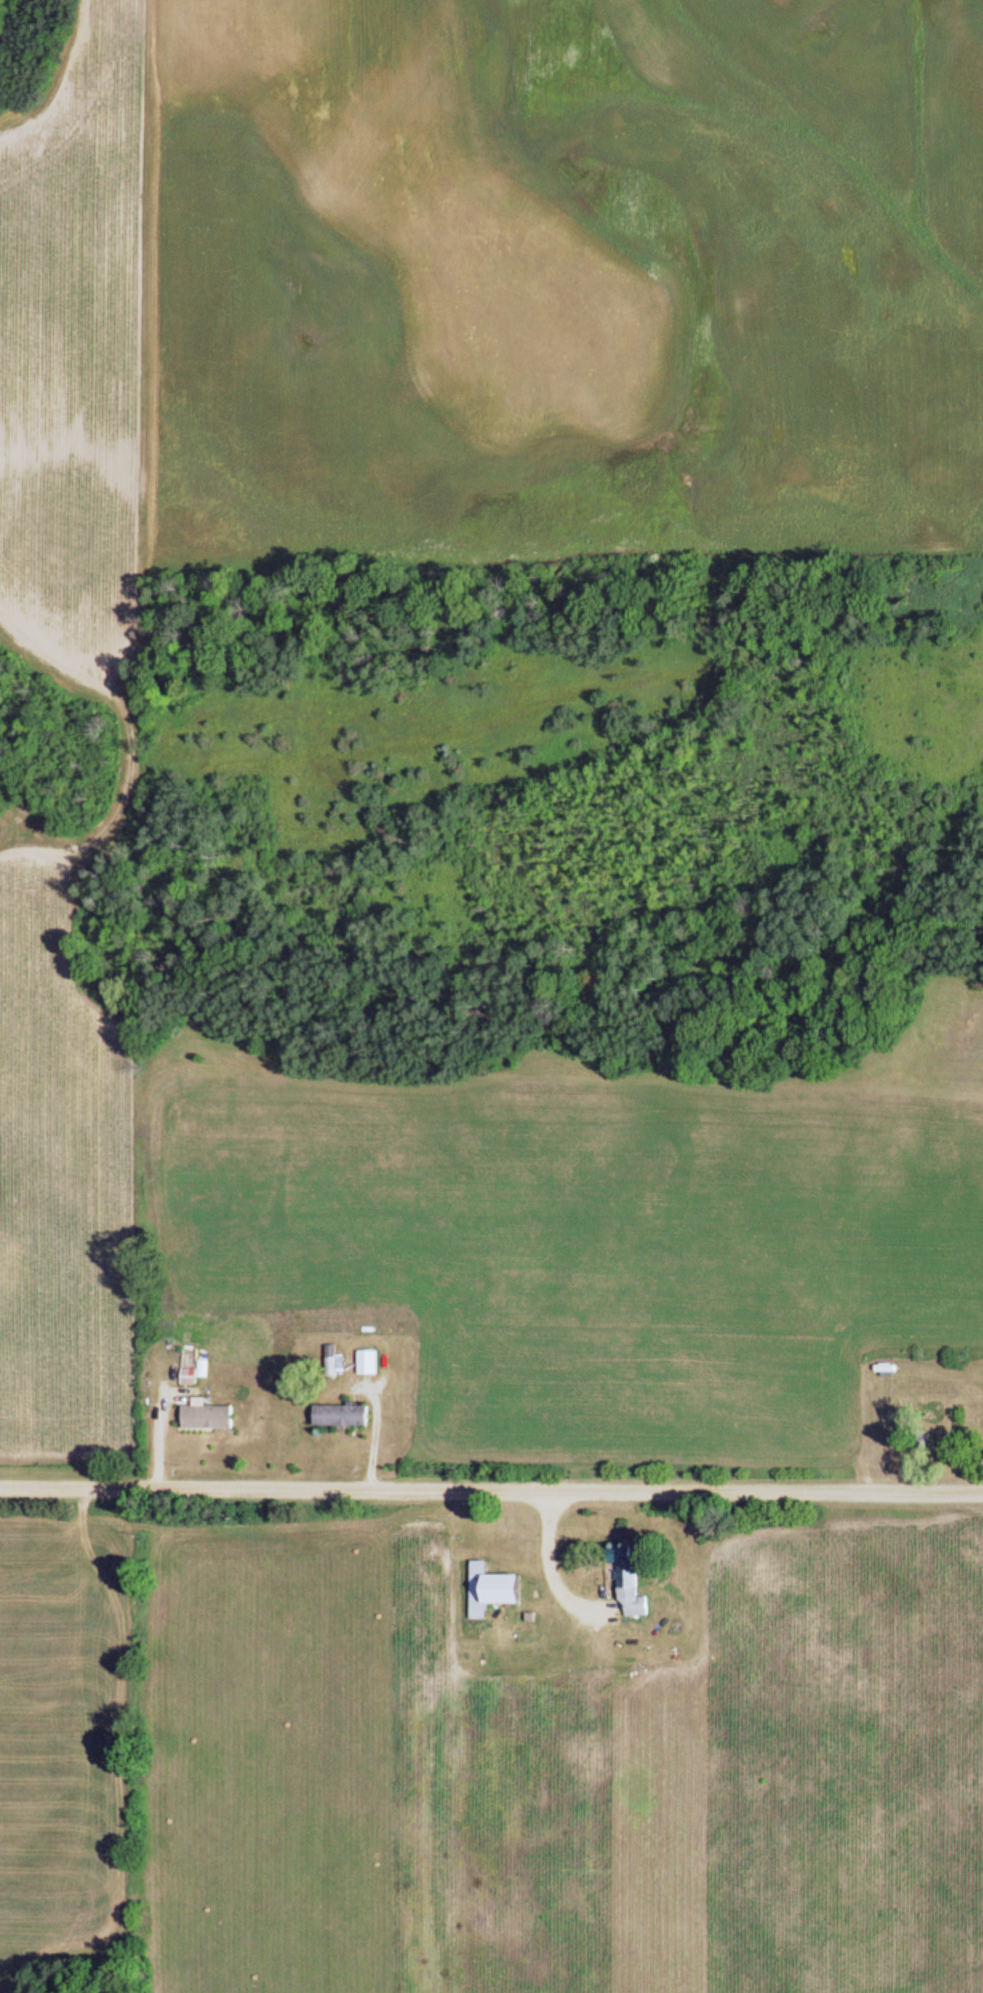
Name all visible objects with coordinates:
building: (336, 1363)
building: (370, 1364)
building: (191, 1379)
building: (343, 1417)
building: (210, 1419)
road: (491, 1495)
building: (632, 1584)
building: (495, 1592)

